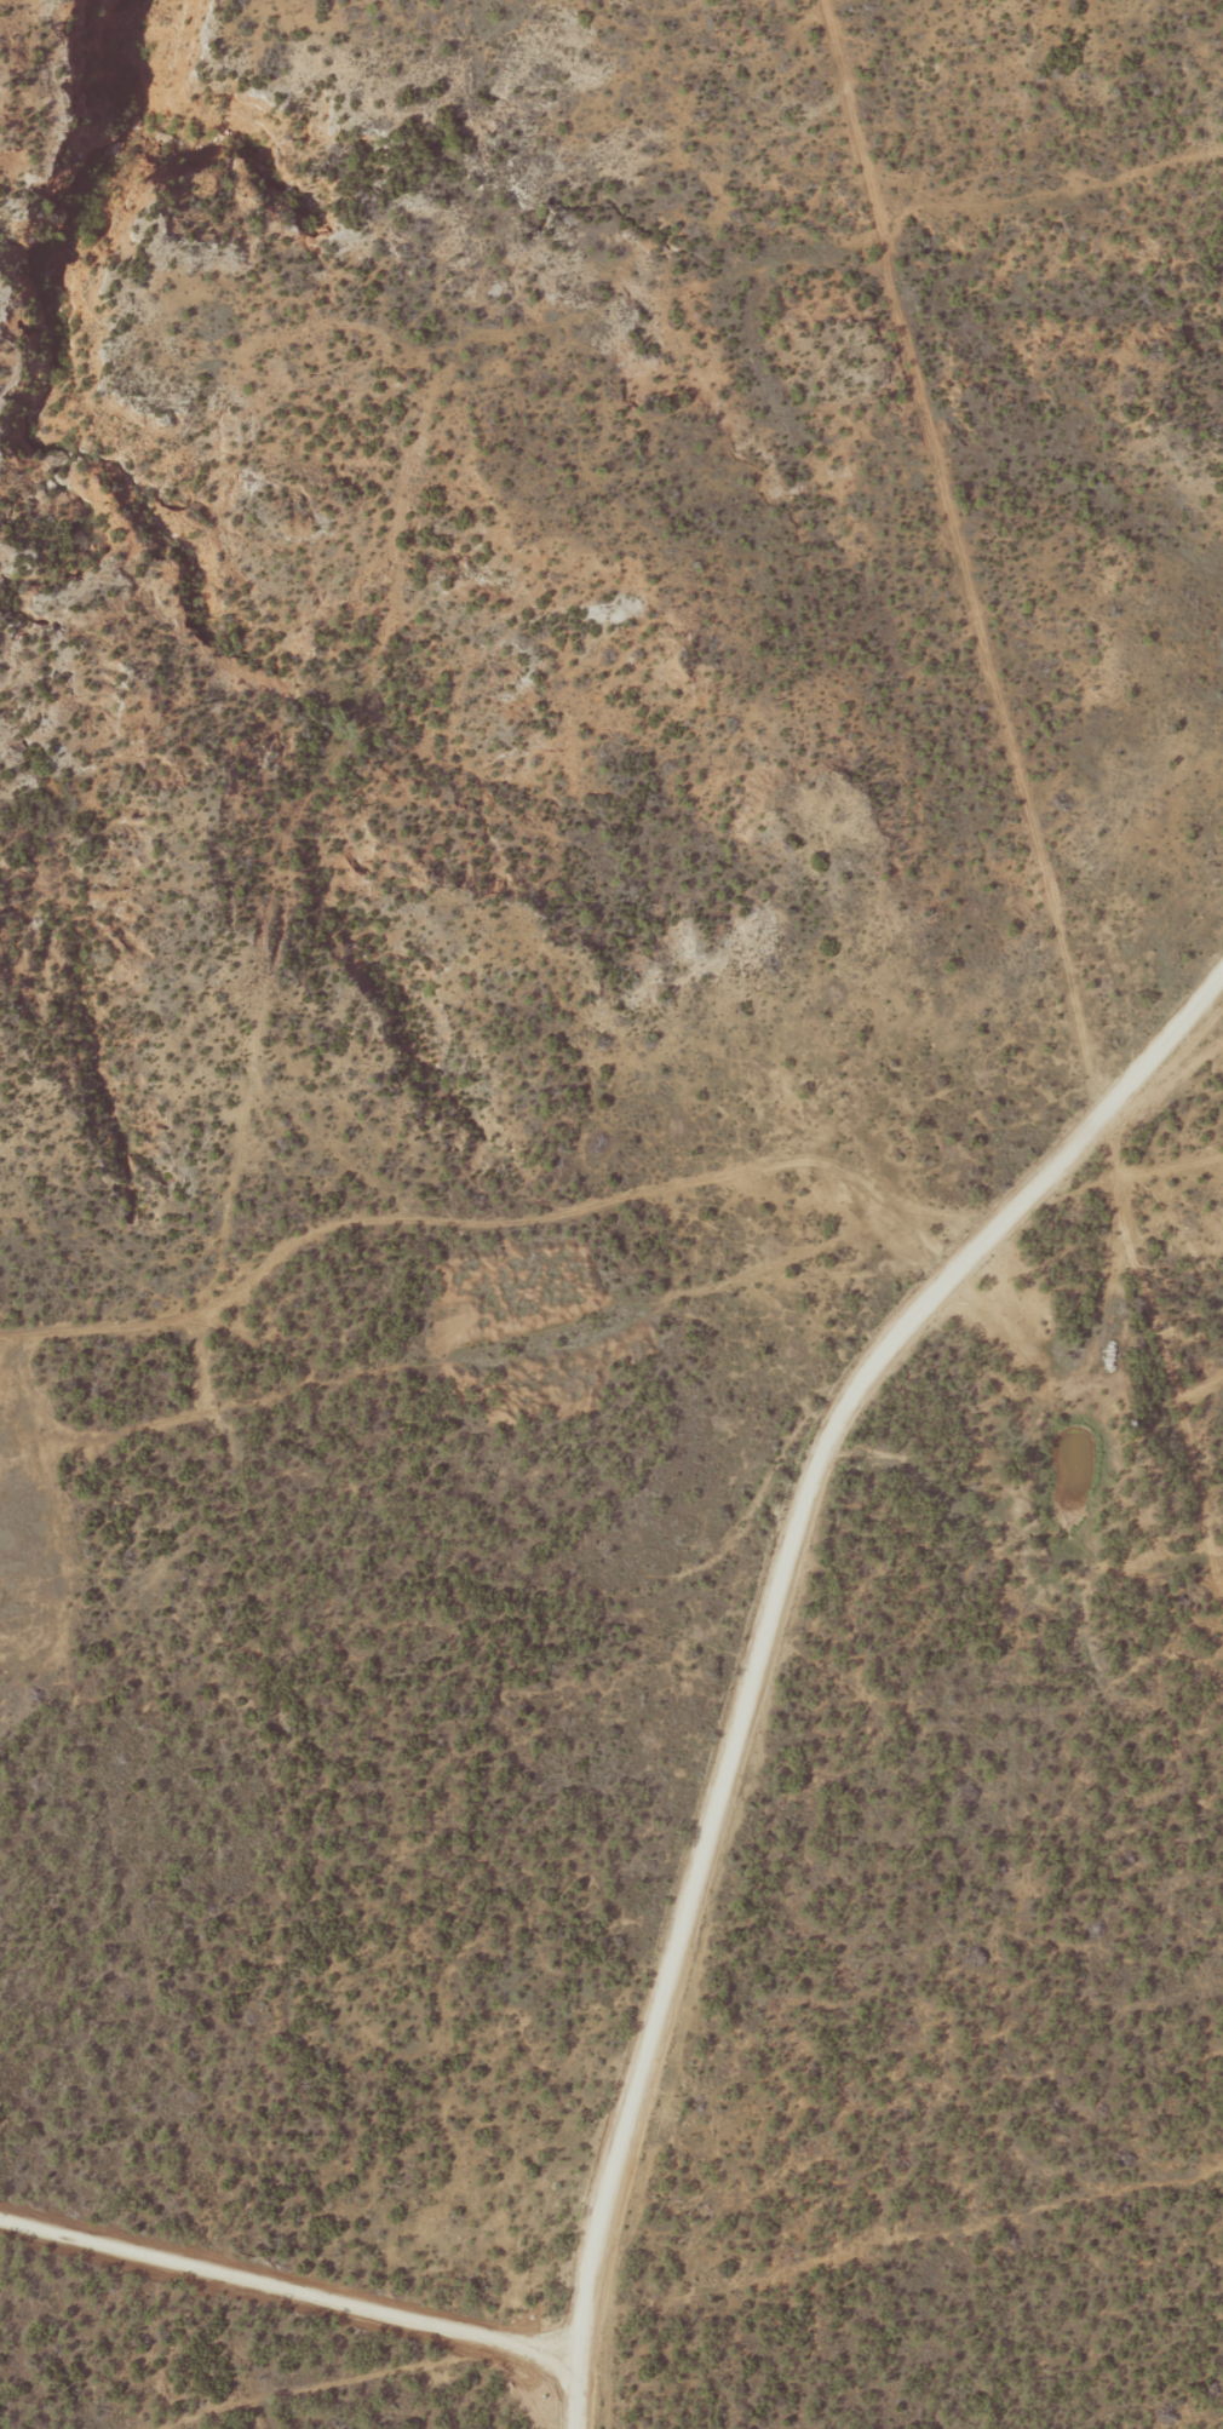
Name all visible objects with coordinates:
road: (741, 1612)

